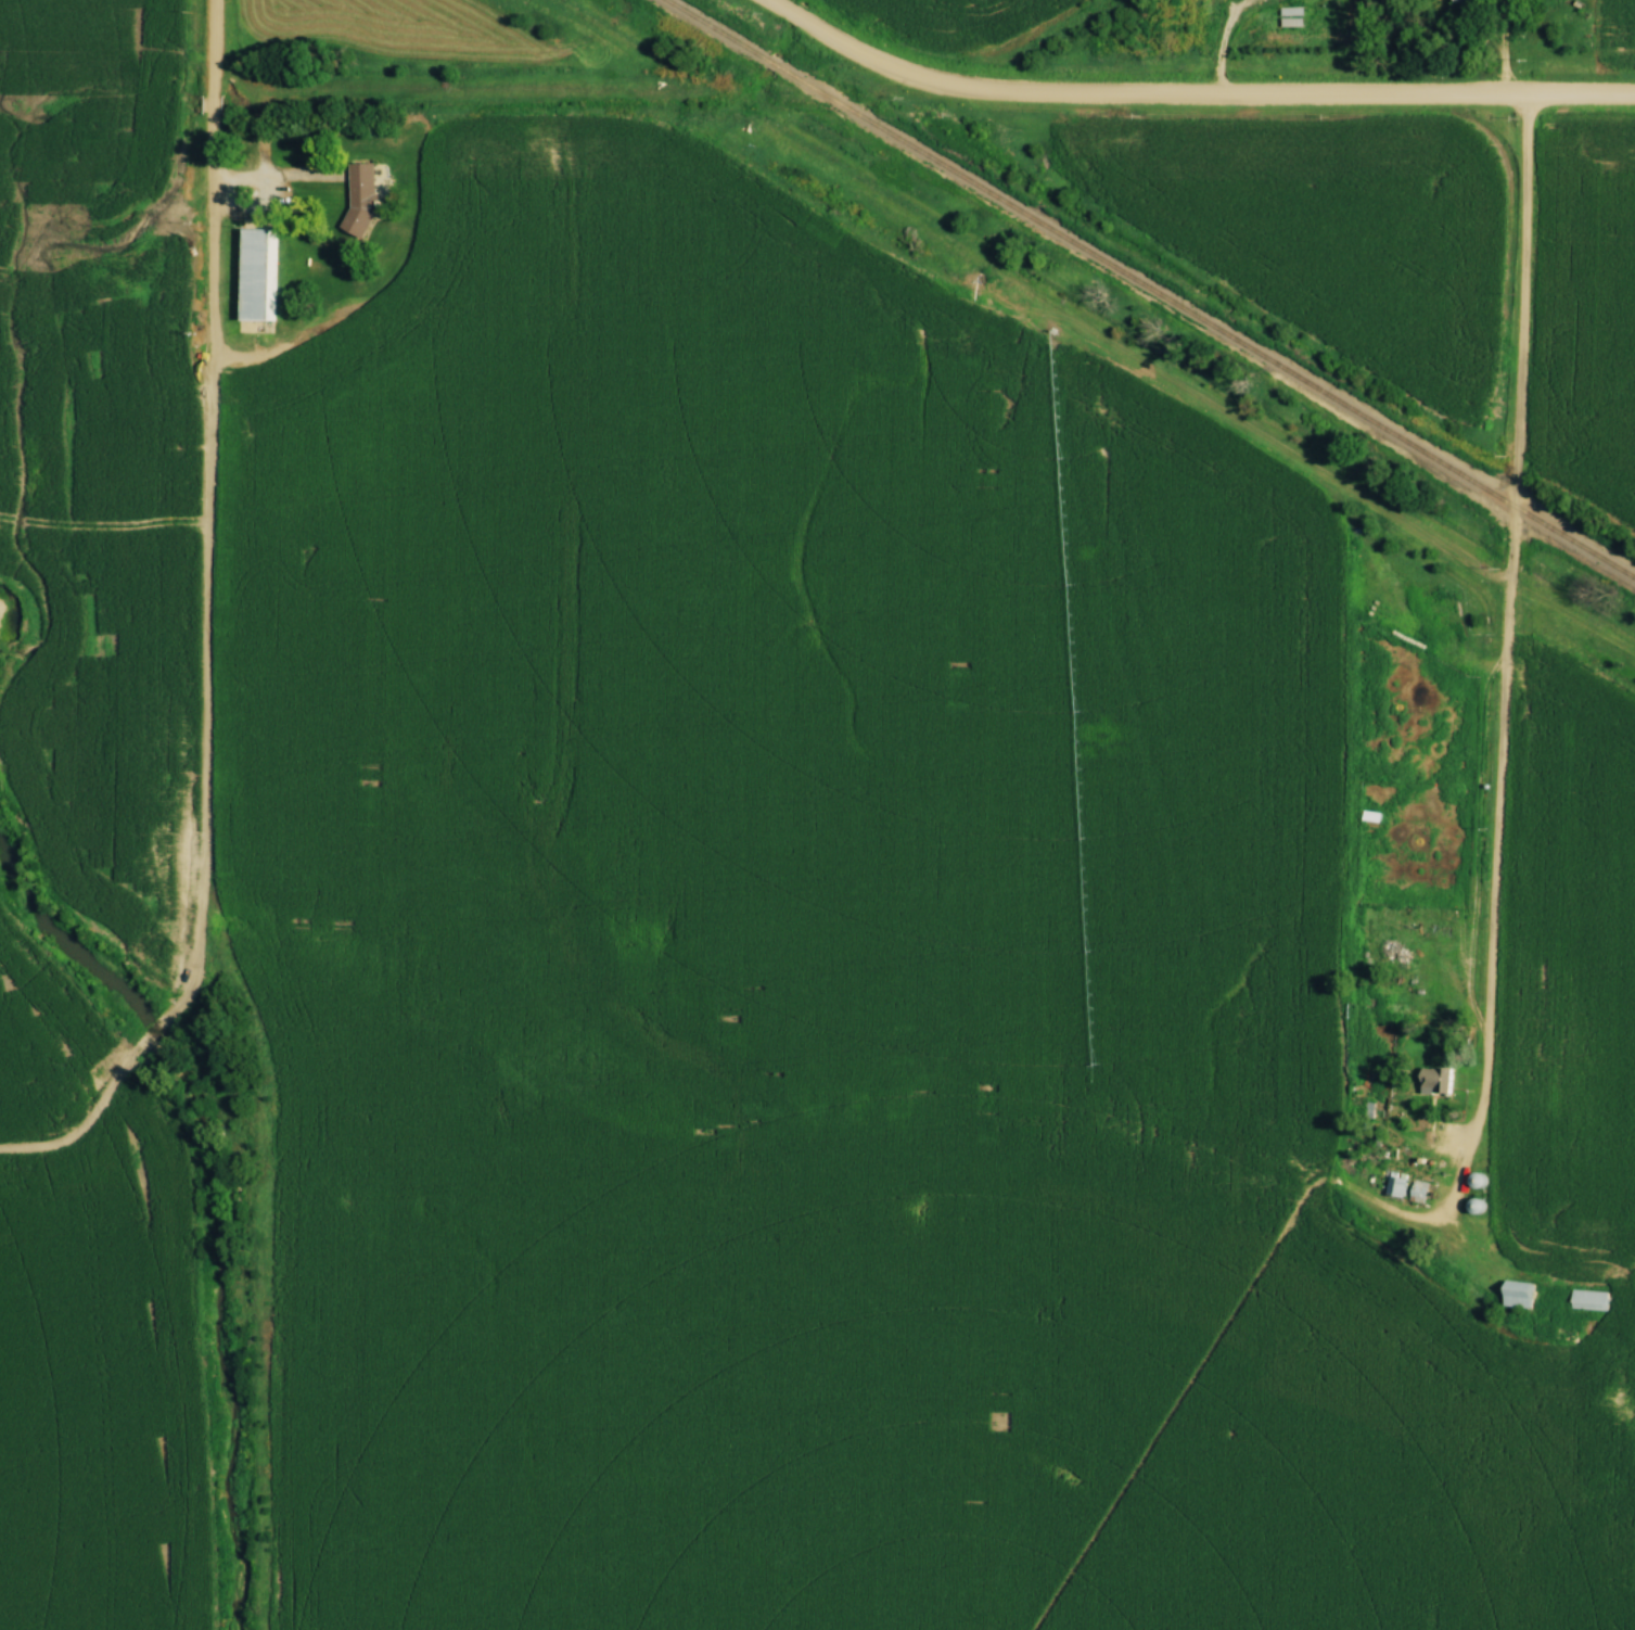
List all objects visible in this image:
building: (1459, 2)
road: (1507, 47)
road: (1190, 93)
road: (210, 179)
building: (363, 198)
building: (254, 272)
railway: (1152, 288)
road: (1506, 627)
building: (481, 1006)
building: (528, 1034)
building: (567, 1041)
building: (1426, 1080)
building: (1392, 1183)
building: (1414, 1190)
building: (1512, 1294)
building: (1585, 1299)

